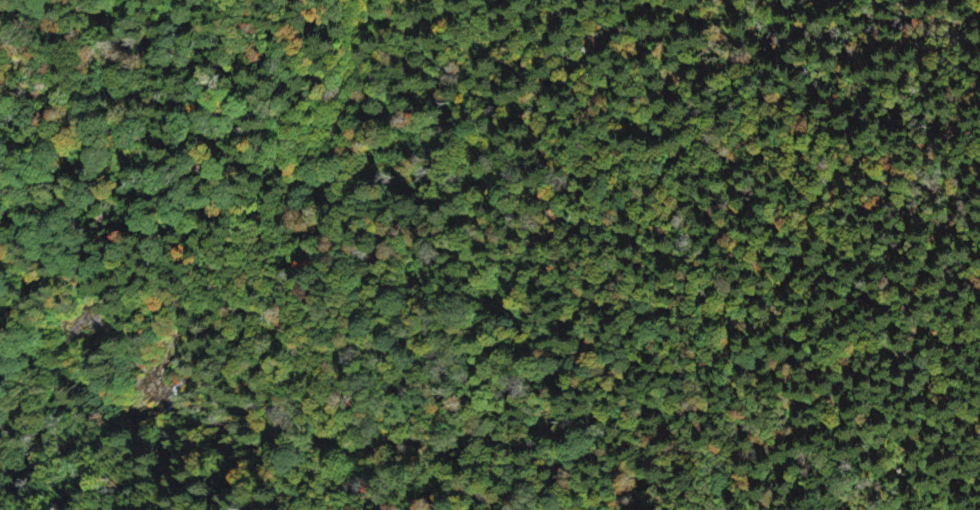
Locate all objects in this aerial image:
road: (479, 254)

